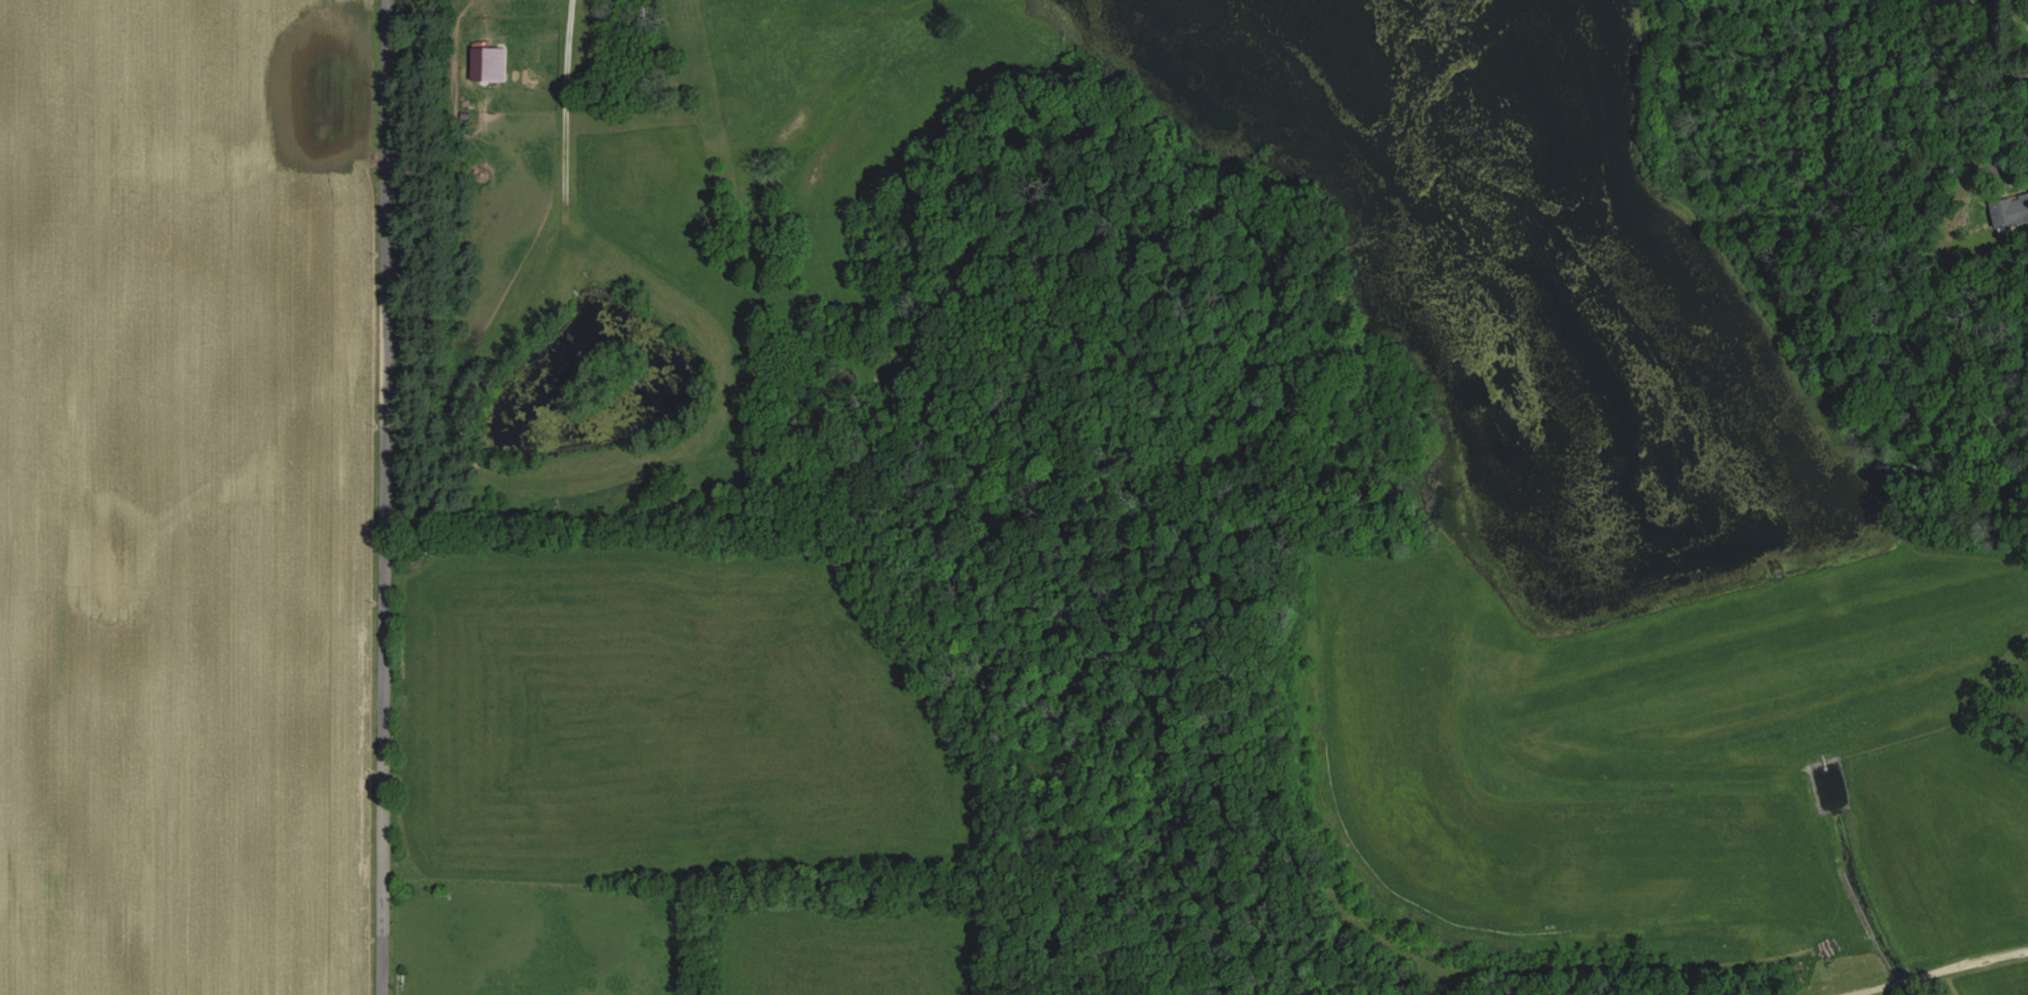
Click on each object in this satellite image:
building: (492, 64)
road: (2000, 115)
building: (2011, 212)
road: (385, 497)
road: (1939, 972)

